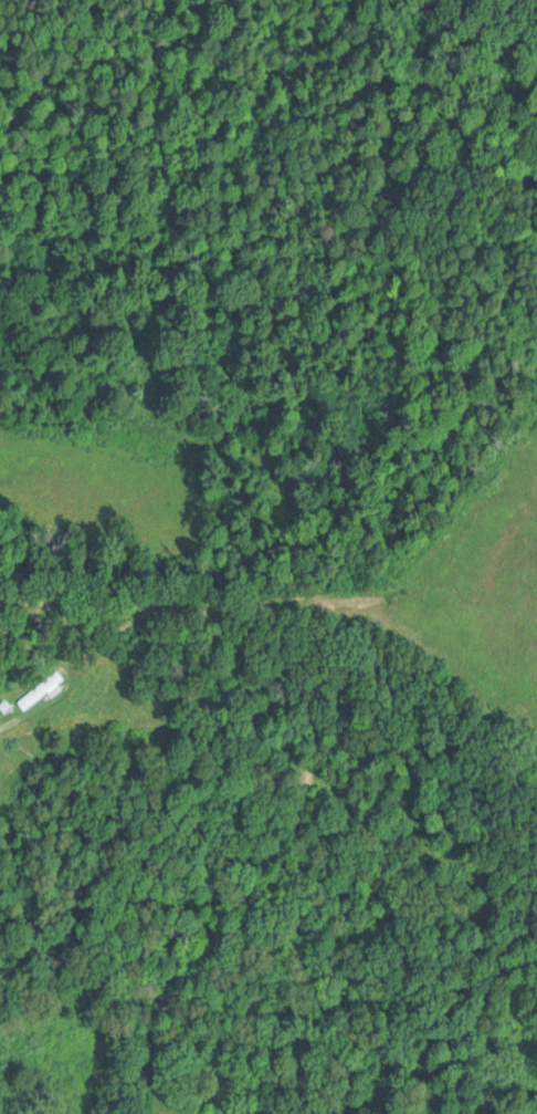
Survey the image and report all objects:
building: (42, 690)
road: (4, 736)

